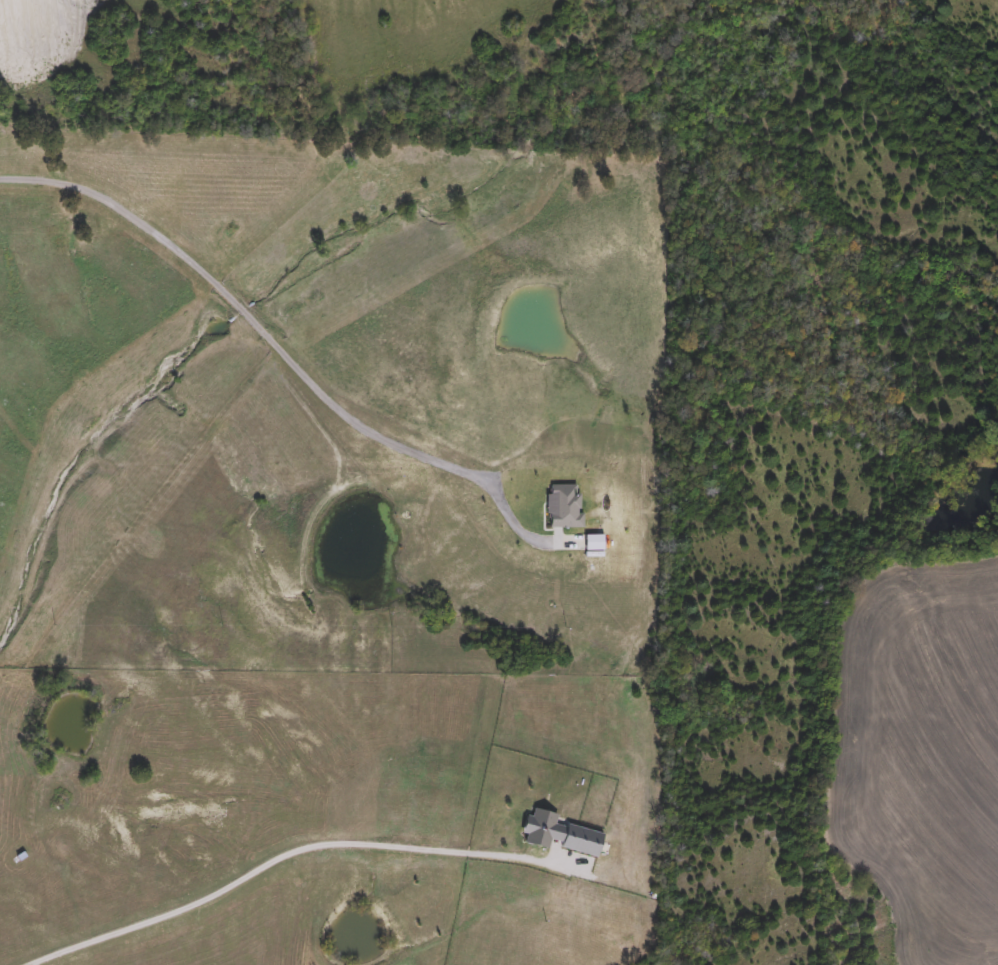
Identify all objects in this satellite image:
road: (280, 354)
road: (266, 863)

